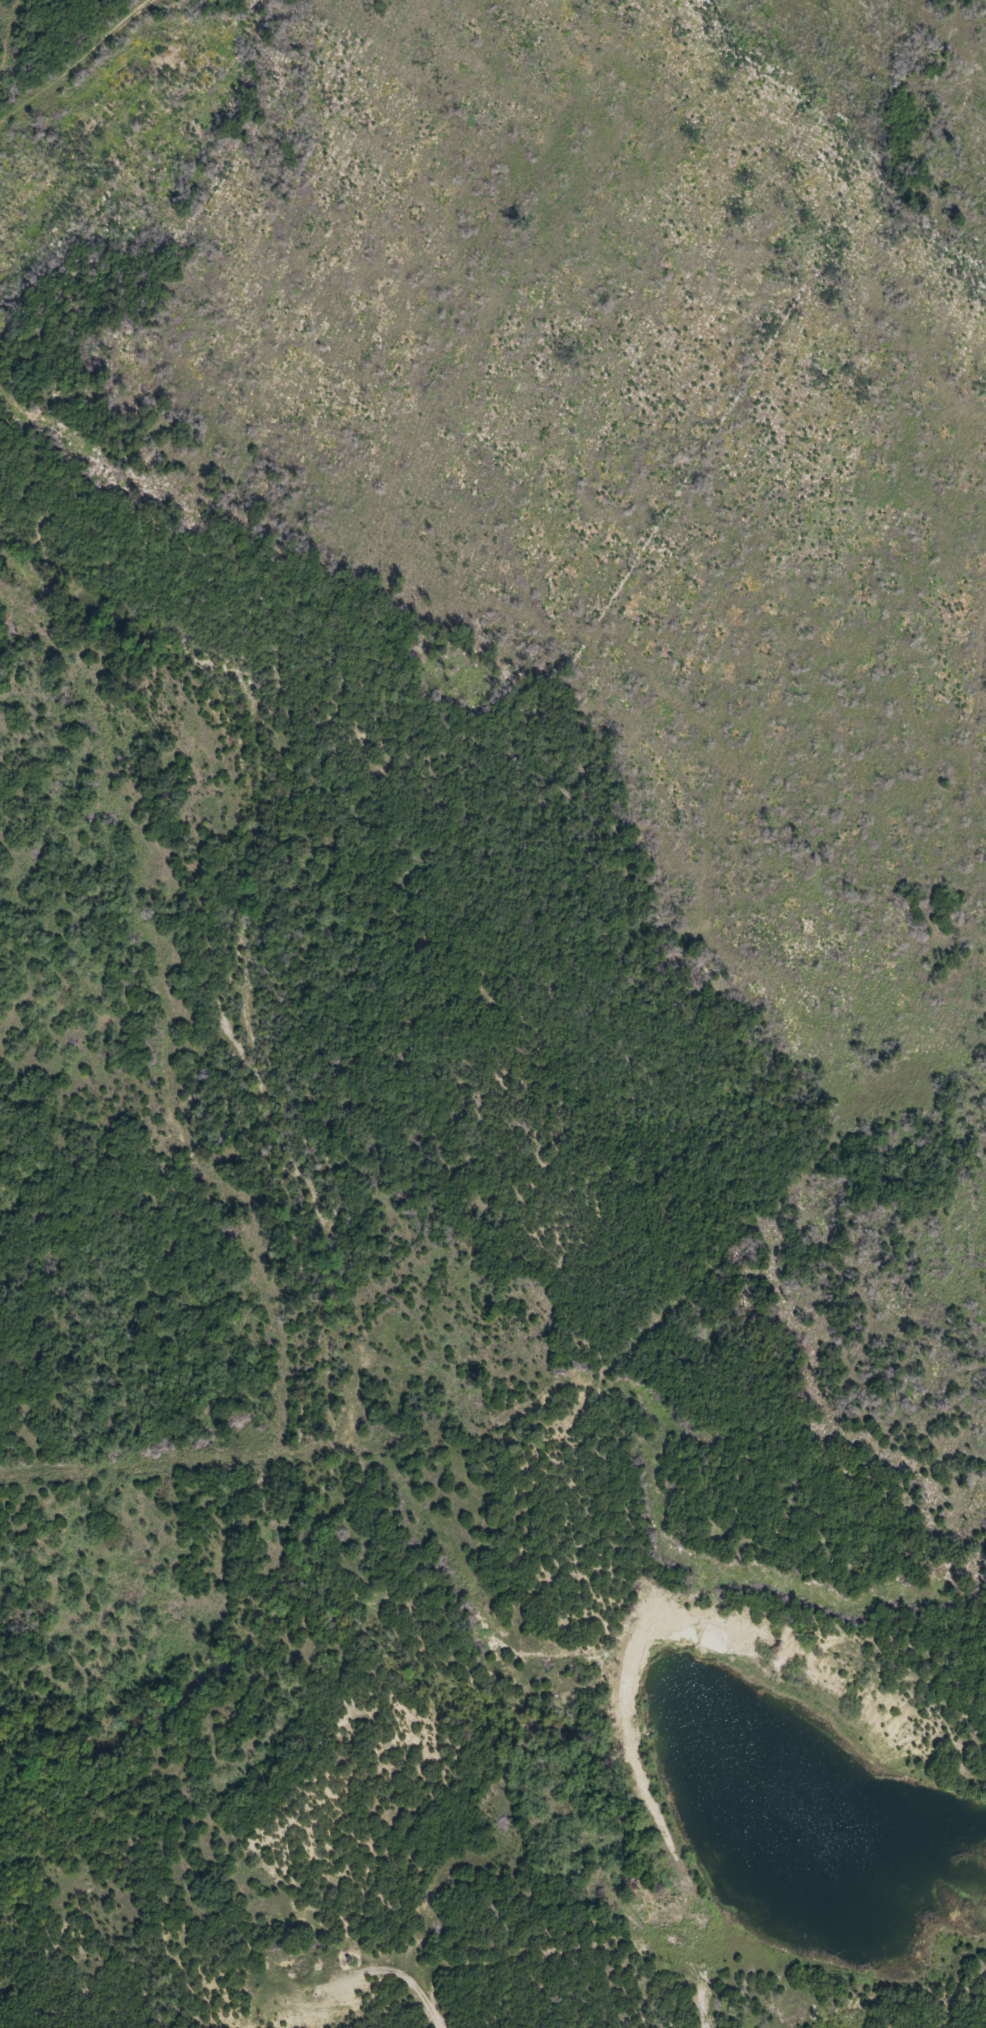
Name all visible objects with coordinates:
road: (412, 1983)

